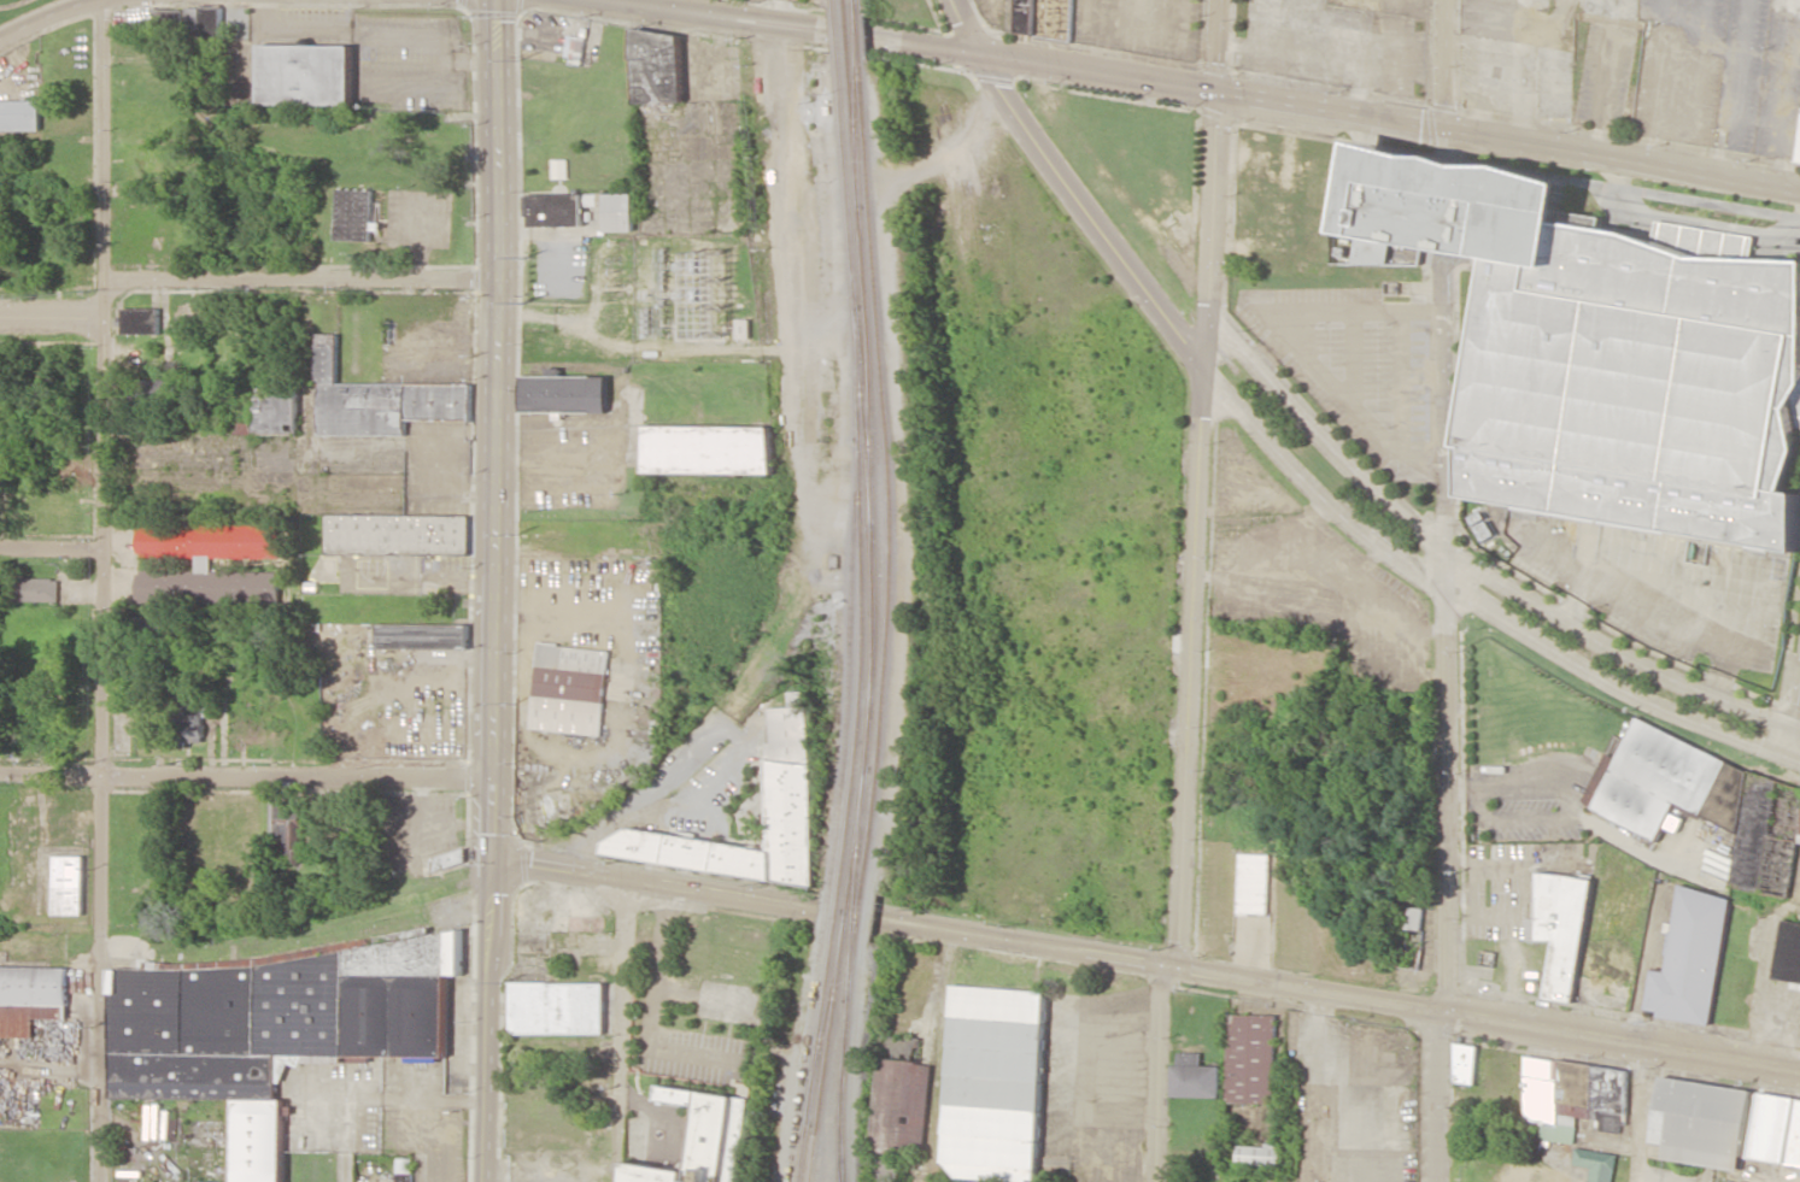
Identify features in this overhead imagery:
road: (628, 4)
railway: (837, 5)
railway: (846, 5)
railway: (857, 6)
road: (785, 14)
road: (46, 16)
railway: (848, 17)
building: (1044, 18)
road: (774, 27)
road: (966, 27)
railway: (839, 33)
railway: (858, 35)
railway: (860, 36)
railway: (850, 40)
traffic signals: (979, 54)
road: (1443, 61)
building: (658, 66)
building: (305, 75)
railway: (852, 78)
road: (1210, 84)
building: (19, 114)
railway: (861, 131)
building: (1798, 151)
railway: (857, 153)
road: (1622, 153)
road: (78, 166)
building: (558, 169)
railway: (850, 182)
road: (1074, 196)
railway: (873, 205)
building: (581, 210)
railway: (862, 213)
building: (353, 214)
building: (1406, 254)
road: (301, 276)
power substation: (698, 298)
road: (51, 319)
building: (140, 321)
building: (745, 328)
building: (1603, 353)
railway: (884, 359)
parking lot: (1355, 361)
railway: (872, 372)
railway: (886, 388)
building: (565, 393)
building: (380, 399)
building: (272, 408)
railway: (867, 418)
building: (710, 449)
road: (1197, 483)
railway: (860, 512)
building: (1482, 527)
building: (397, 534)
road: (51, 547)
road: (1465, 561)
building: (206, 563)
building: (328, 565)
parking lot: (1667, 583)
building: (39, 589)
road: (100, 590)
road: (491, 590)
road: (1456, 592)
railway: (864, 598)
building: (422, 635)
railway: (886, 649)
building: (570, 689)
building: (798, 698)
railway: (870, 707)
building: (188, 719)
road: (1794, 725)
road: (1447, 727)
railway: (846, 735)
road: (244, 780)
building: (791, 786)
building: (1708, 804)
railway: (862, 828)
building: (288, 831)
building: (447, 859)
traffic signals: (487, 864)
building: (1251, 882)
building: (69, 884)
railway: (851, 899)
railway: (828, 908)
railway: (839, 911)
railway: (856, 915)
railway: (860, 915)
building: (1412, 918)
railway: (848, 924)
railway: (848, 924)
building: (1559, 929)
road: (962, 933)
building: (1788, 953)
building: (1690, 958)
railway: (852, 970)
railway: (852, 970)
building: (30, 998)
building: (557, 1007)
building: (275, 1025)
railway: (821, 1030)
railway: (826, 1030)
road: (622, 1033)
road: (1618, 1040)
railway: (807, 1058)
building: (1249, 1058)
railway: (828, 1059)
building: (1464, 1063)
road: (1156, 1072)
building: (1192, 1077)
building: (993, 1083)
railway: (844, 1086)
building: (1572, 1096)
building: (901, 1105)
road: (1641, 1113)
building: (1702, 1122)
building: (1777, 1129)
building: (703, 1139)
railway: (802, 1153)
building: (1257, 1154)
building: (1596, 1164)
road: (1098, 1168)
building: (404, 1170)
railway: (842, 1177)

